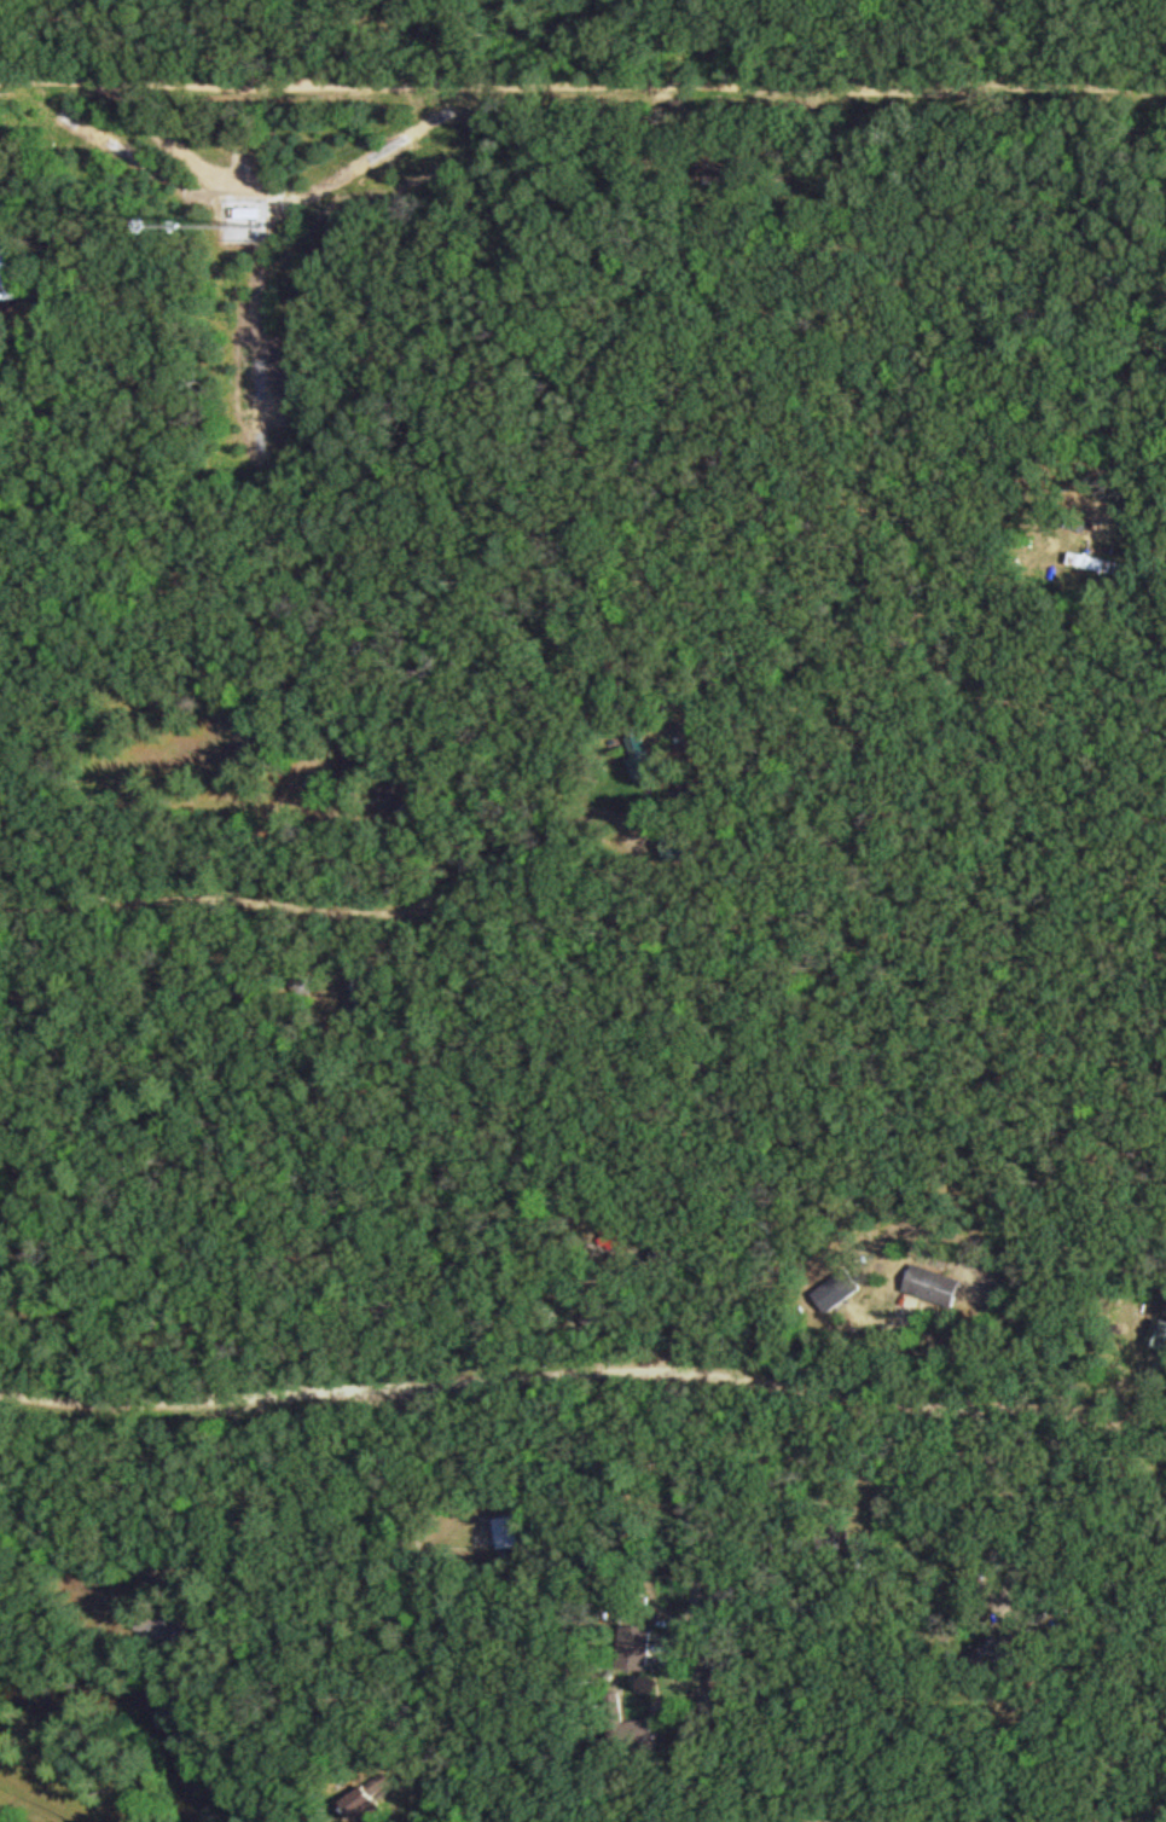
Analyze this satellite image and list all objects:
road: (582, 35)
road: (648, 118)
building: (11, 273)
building: (644, 764)
building: (938, 1283)
building: (842, 1288)
road: (585, 1376)
building: (507, 1530)
river: (132, 1706)
road: (1130, 1812)

